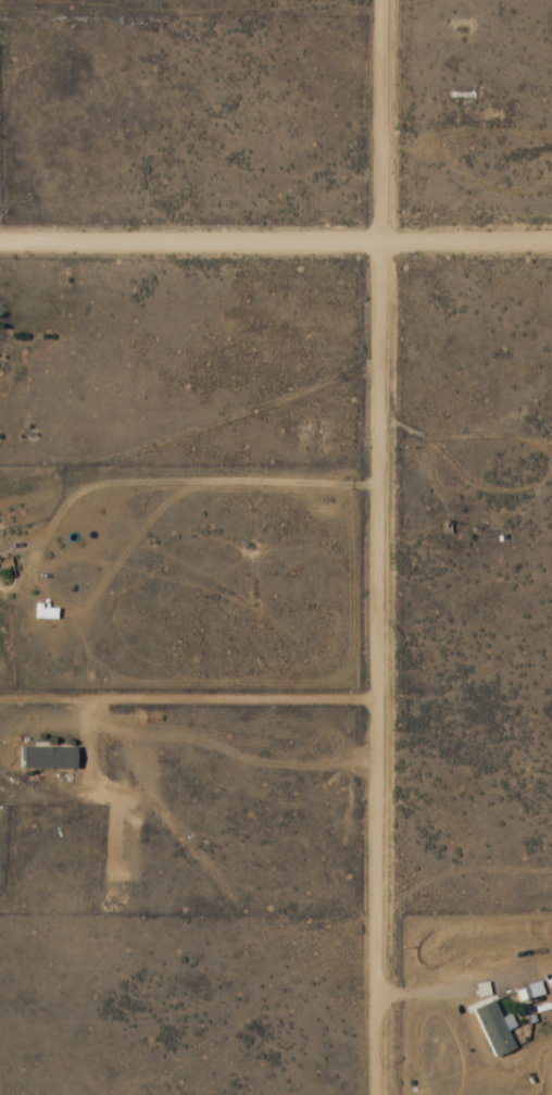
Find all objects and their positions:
building: (460, 97)
road: (276, 241)
building: (543, 416)
road: (375, 547)
building: (43, 758)
building: (491, 1030)

